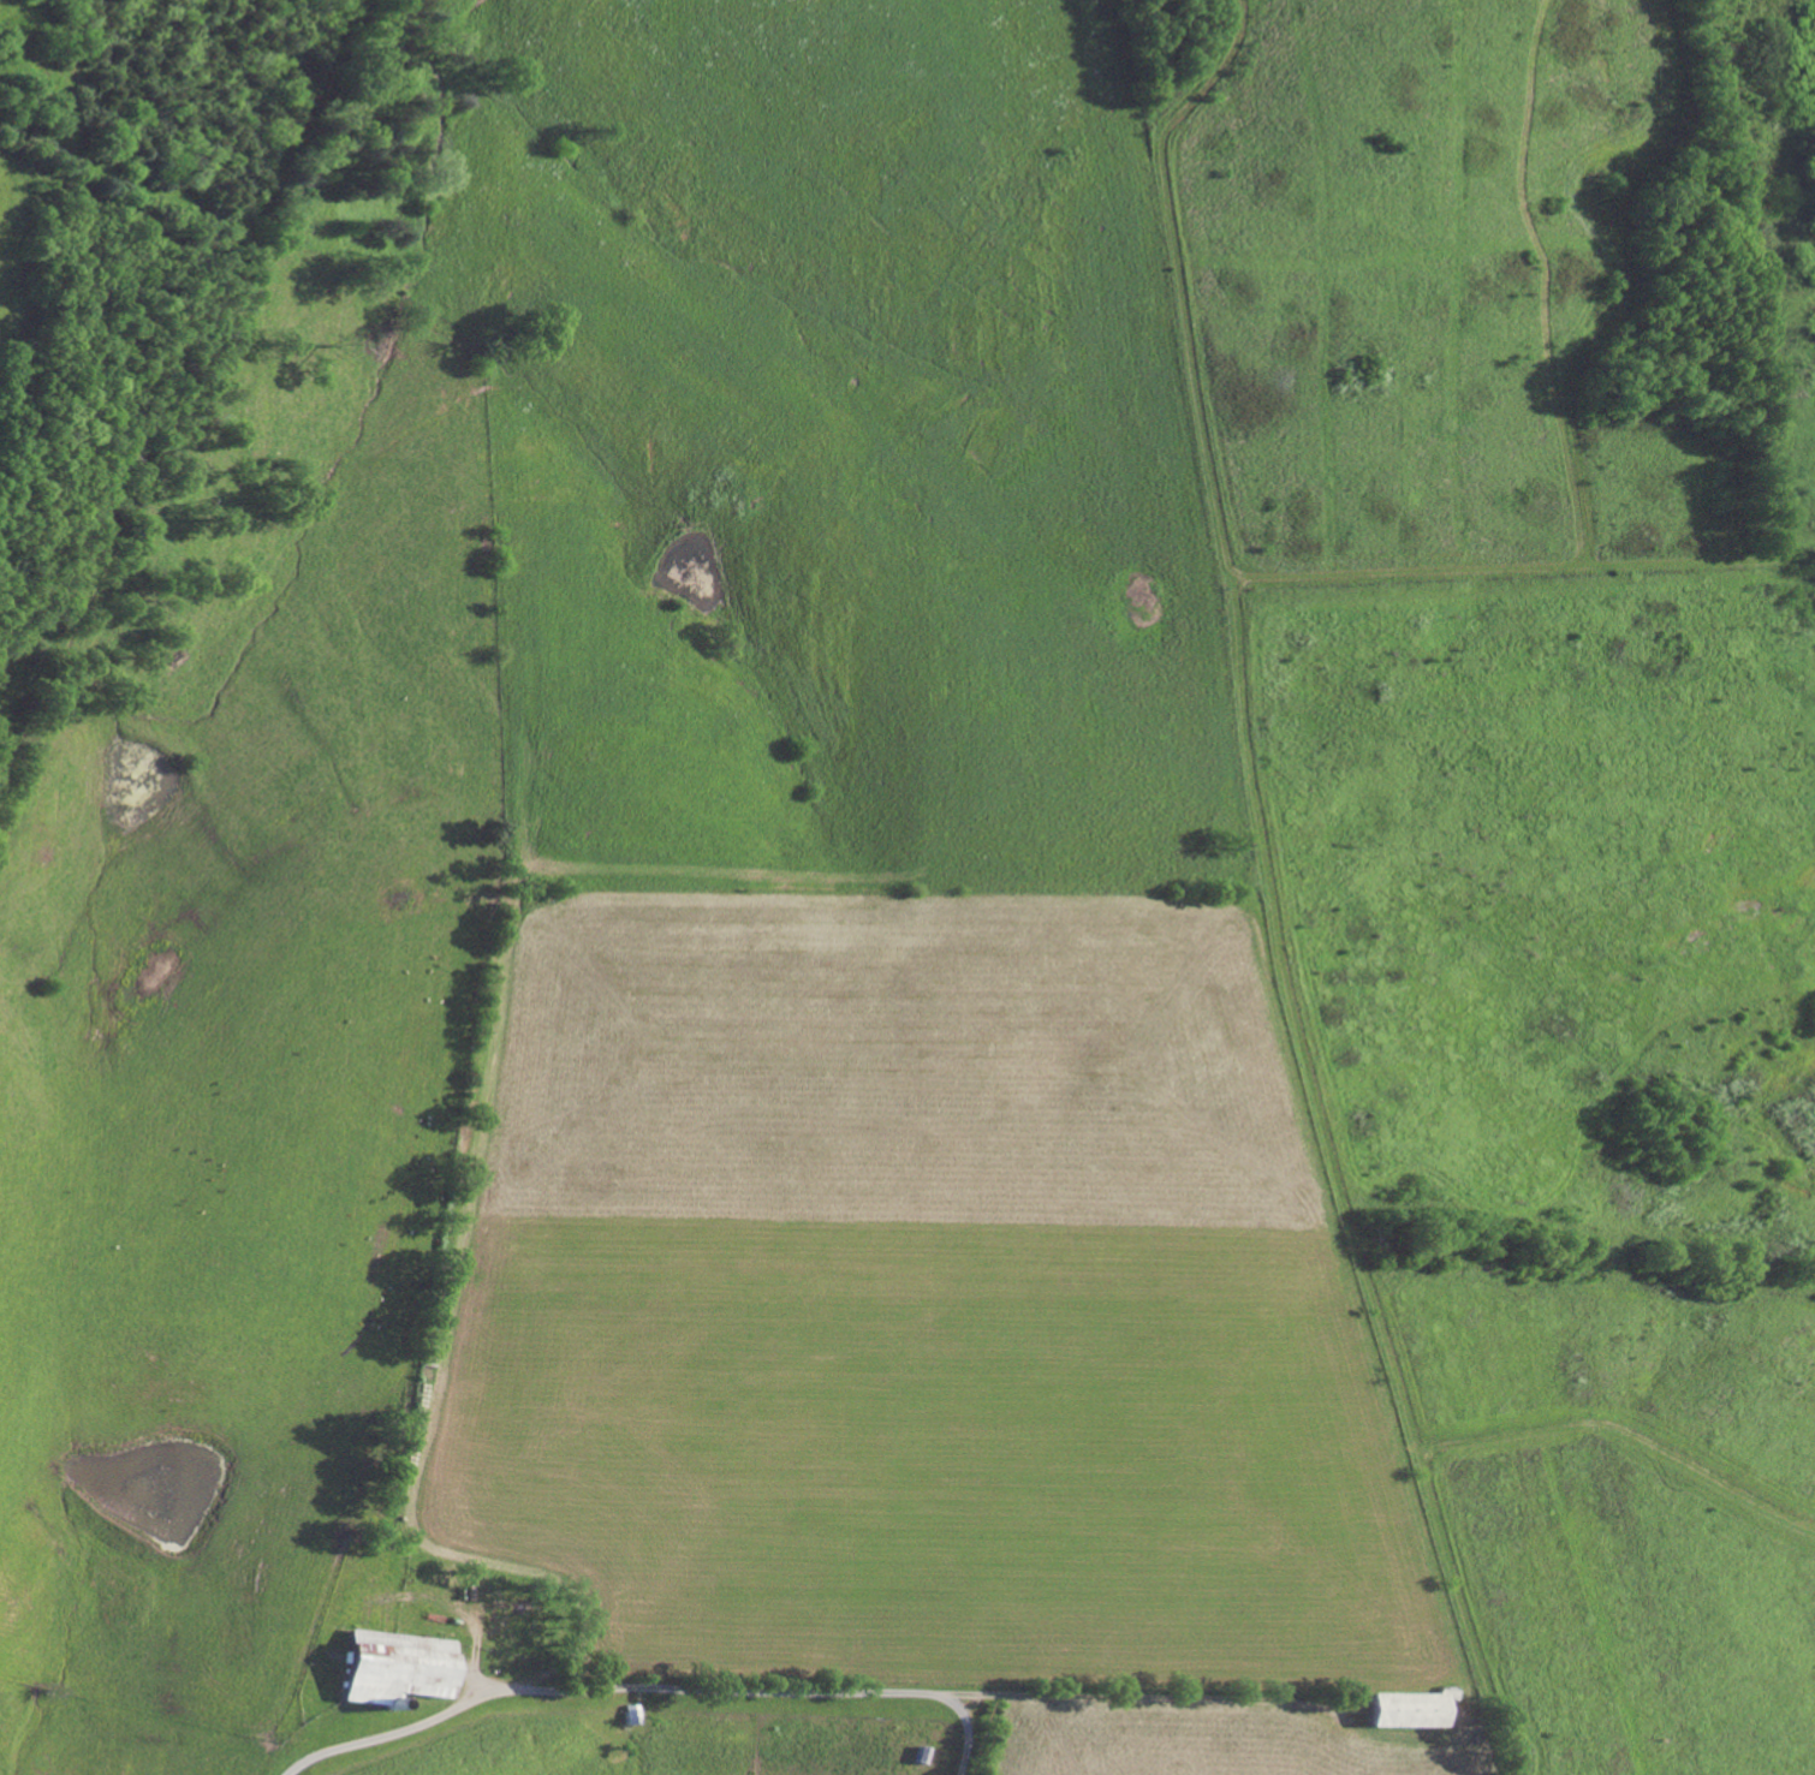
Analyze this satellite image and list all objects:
road: (1573, 361)
road: (1264, 886)
building: (389, 1666)
road: (648, 1688)
building: (1402, 1709)

